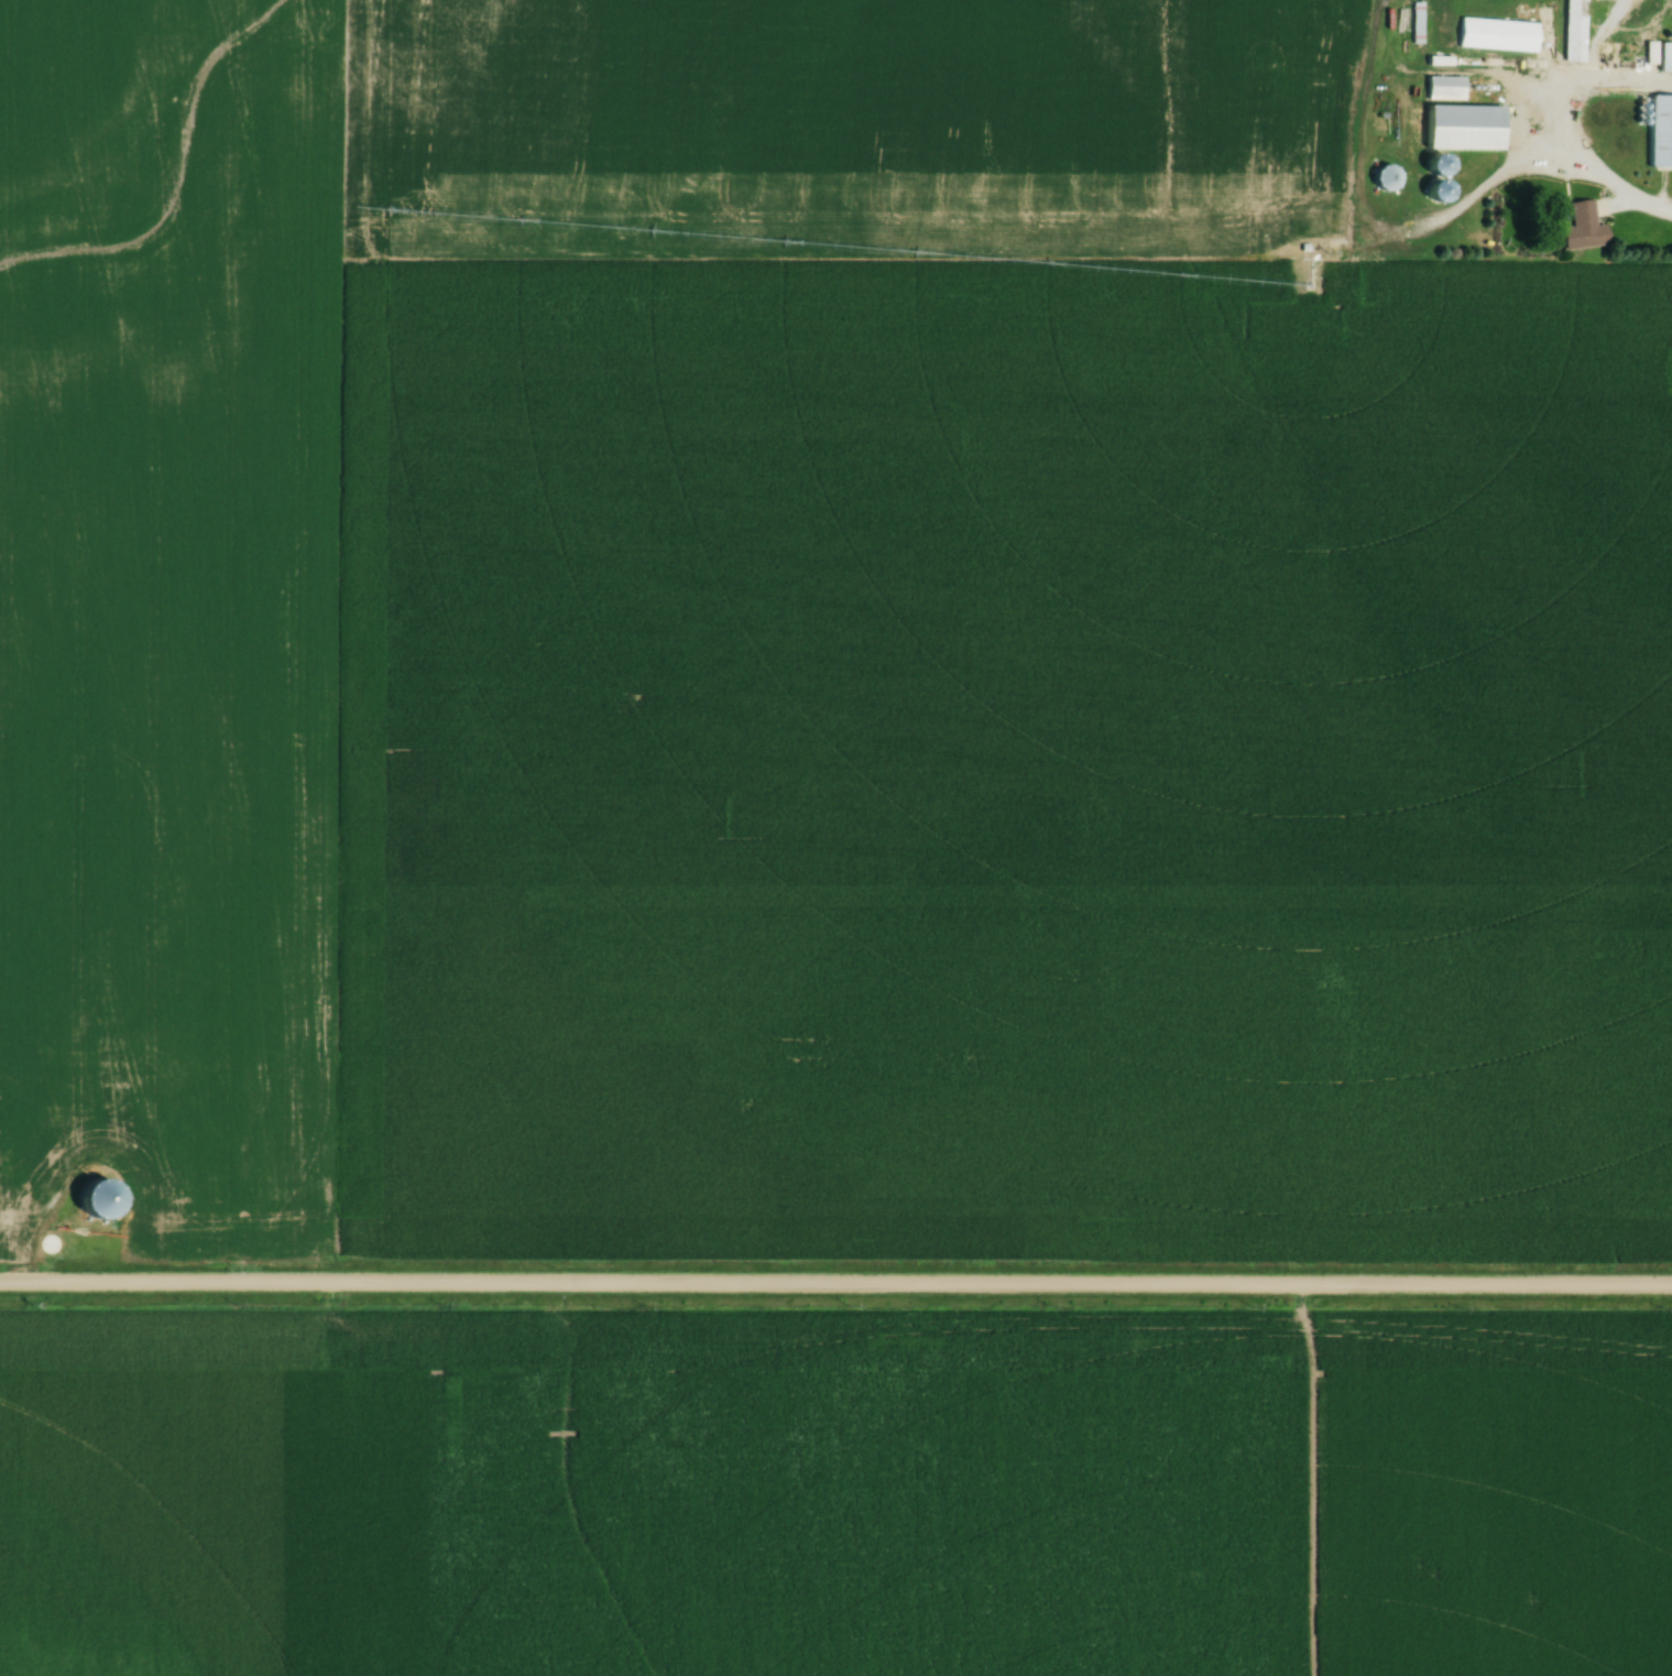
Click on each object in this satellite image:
building: (1664, 2)
building: (1571, 31)
building: (1494, 35)
building: (1654, 55)
building: (1442, 88)
road: (1556, 123)
building: (1456, 128)
building: (1658, 131)
building: (1428, 165)
building: (1380, 177)
building: (1429, 189)
building: (1580, 228)
building: (56, 1243)
road: (835, 1280)

